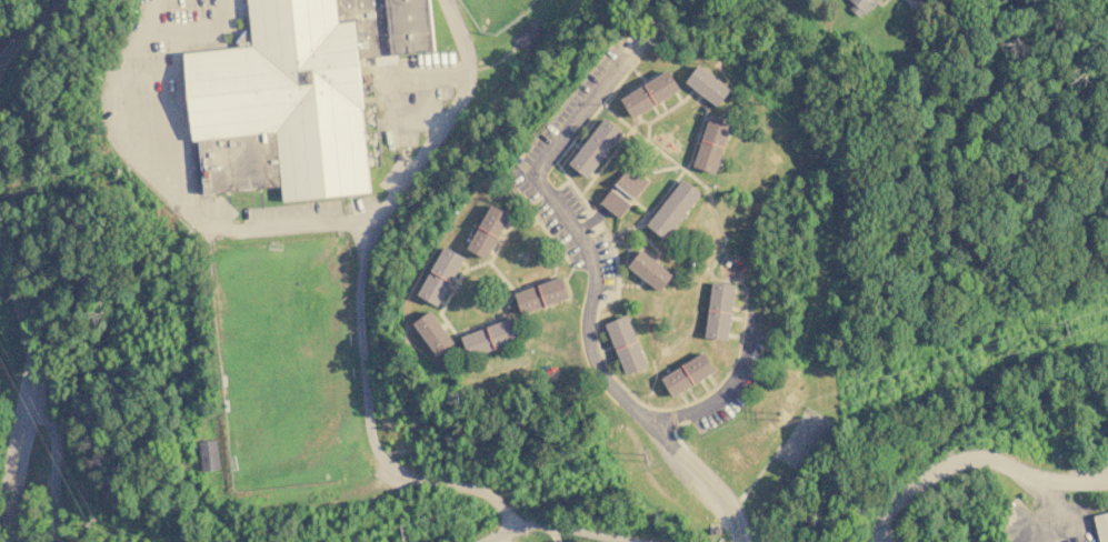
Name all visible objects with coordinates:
building: (911, 2)
building: (860, 6)
park: (485, 11)
road: (27, 29)
building: (529, 33)
building: (709, 84)
building: (650, 93)
building: (297, 94)
road: (445, 118)
building: (713, 142)
building: (597, 147)
road: (172, 184)
building: (625, 191)
building: (675, 208)
building: (489, 230)
building: (652, 269)
building: (441, 274)
building: (543, 294)
road: (590, 297)
building: (721, 310)
building: (435, 330)
building: (492, 335)
building: (627, 343)
road: (360, 349)
park: (283, 362)
building: (688, 373)
road: (36, 385)
road: (721, 389)
park: (803, 439)
building: (208, 454)
road: (979, 465)
road: (54, 470)
road: (463, 484)
road: (305, 503)
road: (559, 526)
building: (1102, 526)

